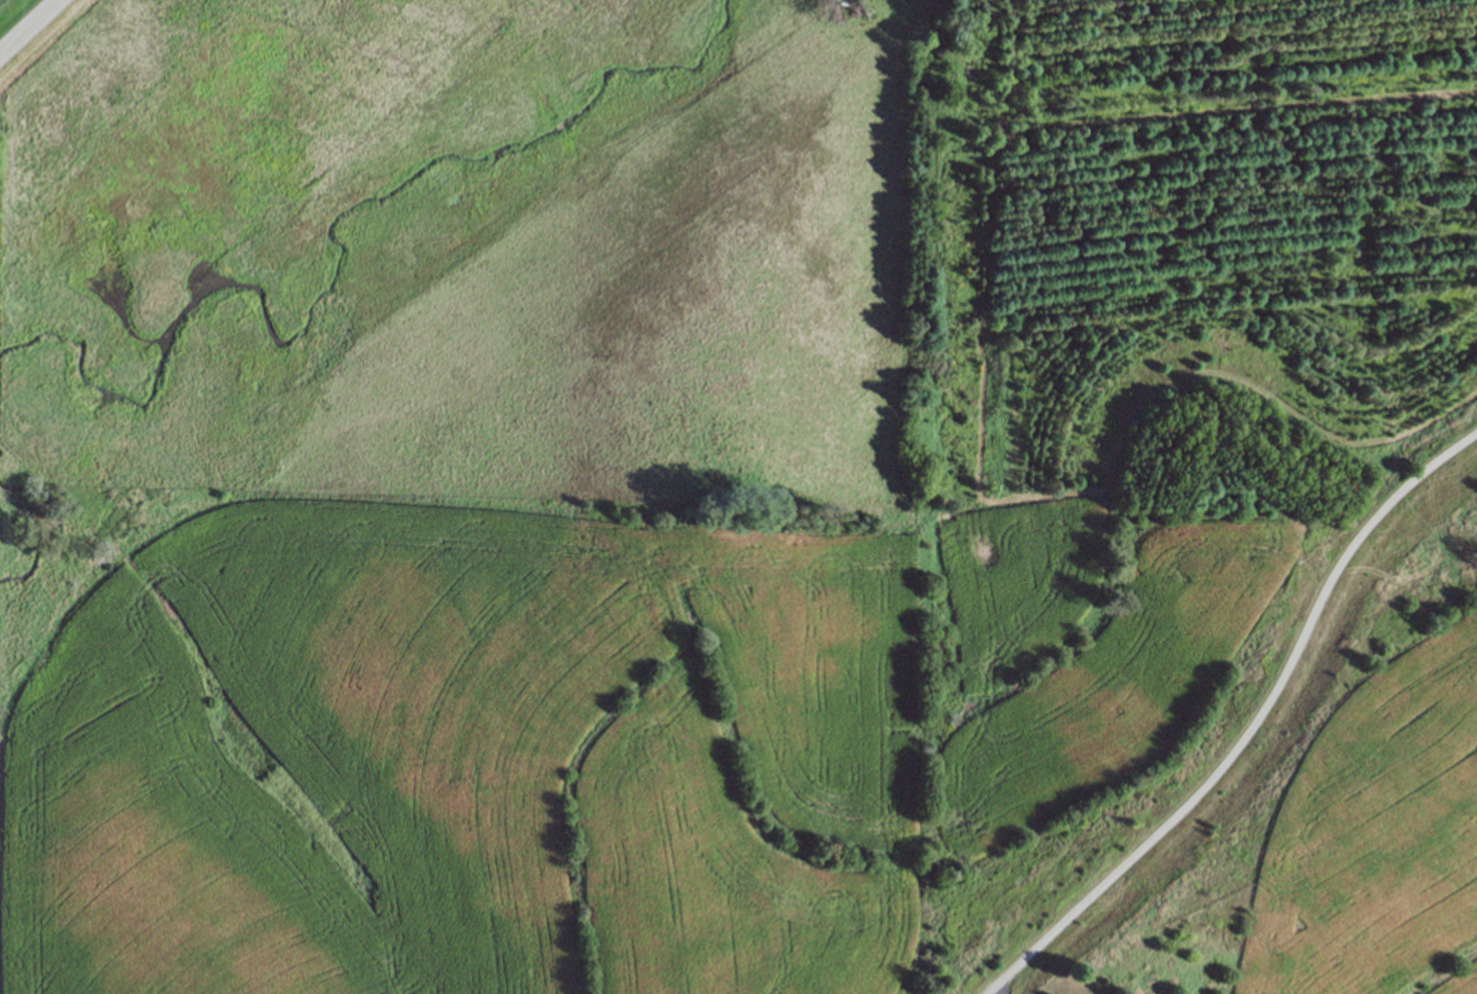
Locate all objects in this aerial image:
road: (28, 26)
road: (1251, 727)

